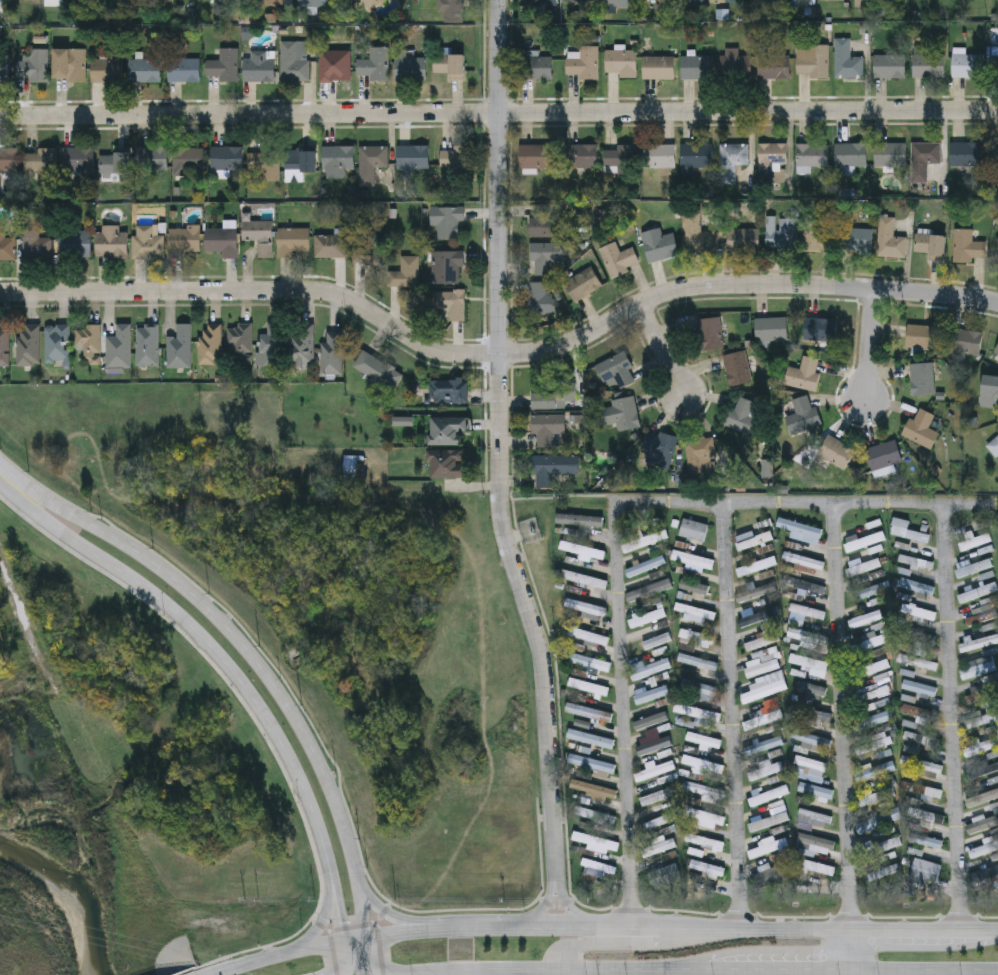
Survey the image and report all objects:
building: (793, 0)
building: (916, 0)
building: (580, 1)
building: (694, 1)
building: (724, 1)
building: (861, 1)
building: (542, 2)
building: (315, 3)
building: (615, 3)
building: (452, 11)
building: (812, 60)
building: (846, 60)
building: (294, 61)
building: (583, 61)
building: (620, 62)
building: (928, 64)
building: (69, 65)
building: (375, 65)
building: (889, 65)
building: (967, 65)
building: (33, 66)
building: (224, 66)
building: (449, 66)
building: (658, 66)
building: (696, 66)
building: (736, 66)
building: (773, 66)
building: (409, 67)
building: (535, 67)
building: (335, 69)
building: (4, 70)
building: (183, 70)
building: (258, 70)
building: (145, 71)
building: (106, 72)
road: (498, 114)
building: (965, 153)
building: (995, 153)
building: (889, 154)
building: (924, 154)
building: (534, 155)
building: (581, 155)
building: (659, 155)
building: (695, 155)
building: (812, 155)
building: (850, 155)
building: (773, 156)
building: (227, 158)
building: (338, 158)
building: (413, 158)
building: (457, 159)
building: (9, 160)
building: (151, 160)
building: (620, 160)
building: (731, 160)
building: (77, 161)
building: (188, 161)
building: (39, 162)
building: (115, 163)
building: (300, 163)
building: (371, 163)
building: (264, 166)
building: (546, 221)
building: (447, 222)
building: (781, 233)
building: (696, 235)
building: (819, 235)
building: (259, 237)
building: (743, 239)
building: (890, 239)
building: (859, 240)
building: (997, 240)
building: (35, 242)
building: (148, 242)
building: (292, 242)
building: (111, 243)
building: (184, 243)
building: (75, 244)
building: (222, 244)
building: (658, 244)
building: (929, 246)
building: (968, 246)
building: (6, 247)
building: (330, 247)
building: (366, 249)
building: (544, 256)
building: (617, 259)
building: (448, 268)
building: (405, 274)
building: (581, 285)
building: (540, 299)
building: (449, 306)
building: (771, 327)
building: (820, 327)
building: (710, 332)
building: (922, 335)
building: (241, 340)
building: (966, 340)
building: (89, 342)
building: (211, 343)
building: (58, 344)
road: (872, 344)
building: (148, 345)
building: (271, 345)
building: (302, 345)
building: (5, 346)
building: (27, 346)
building: (119, 347)
building: (179, 347)
road: (662, 349)
building: (996, 350)
building: (332, 352)
road: (499, 355)
building: (736, 367)
building: (616, 369)
building: (378, 370)
building: (803, 372)
building: (922, 377)
building: (989, 390)
building: (449, 391)
building: (554, 396)
building: (621, 412)
building: (802, 413)
building: (744, 415)
building: (921, 426)
building: (546, 428)
building: (446, 430)
building: (660, 444)
building: (993, 444)
road: (501, 446)
building: (836, 450)
building: (884, 453)
building: (698, 455)
building: (448, 464)
building: (550, 467)
building: (350, 470)
road: (10, 483)
road: (807, 503)
building: (582, 520)
building: (694, 530)
building: (801, 530)
building: (905, 530)
building: (641, 537)
building: (865, 541)
building: (975, 541)
building: (583, 549)
building: (804, 560)
building: (646, 566)
building: (757, 566)
building: (864, 567)
building: (974, 568)
building: (584, 579)
building: (805, 585)
building: (918, 587)
building: (650, 589)
building: (871, 590)
building: (756, 591)
building: (978, 592)
road: (158, 603)
building: (586, 607)
building: (808, 611)
building: (695, 612)
building: (920, 614)
building: (983, 614)
building: (647, 617)
building: (758, 617)
building: (865, 617)
building: (588, 636)
building: (697, 637)
building: (808, 637)
building: (918, 637)
building: (656, 641)
building: (868, 642)
building: (979, 643)
building: (587, 661)
building: (698, 662)
building: (808, 662)
building: (762, 667)
building: (876, 667)
building: (650, 669)
building: (978, 669)
road: (270, 678)
building: (588, 686)
building: (698, 688)
building: (812, 688)
building: (919, 688)
building: (870, 690)
building: (764, 691)
building: (652, 693)
building: (992, 709)
building: (589, 711)
building: (697, 712)
road: (623, 715)
road: (734, 715)
building: (811, 715)
building: (920, 715)
road: (953, 716)
building: (763, 719)
building: (872, 719)
building: (651, 720)
road: (844, 737)
building: (591, 738)
building: (812, 738)
building: (921, 738)
building: (704, 739)
building: (981, 744)
building: (654, 745)
building: (763, 745)
building: (591, 763)
building: (811, 763)
building: (703, 764)
building: (987, 764)
building: (922, 765)
building: (764, 769)
building: (875, 770)
building: (993, 779)
building: (593, 789)
building: (704, 789)
building: (816, 790)
building: (878, 792)
road: (302, 795)
building: (656, 795)
building: (767, 795)
building: (981, 799)
park: (42, 804)
building: (595, 815)
building: (815, 815)
building: (927, 815)
building: (770, 818)
building: (878, 820)
building: (658, 821)
building: (982, 823)
building: (927, 840)
building: (596, 841)
building: (705, 841)
building: (816, 843)
building: (767, 846)
building: (659, 847)
building: (983, 847)
building: (877, 848)
building: (599, 865)
building: (927, 867)
building: (708, 868)
building: (885, 871)
building: (665, 875)
building: (772, 875)
building: (985, 877)
road: (333, 900)
road: (543, 907)
road: (568, 907)
road: (381, 912)
road: (321, 913)
road: (669, 927)
road: (636, 944)
road: (278, 956)
road: (345, 959)
road: (514, 970)
road: (633, 971)
road: (778, 971)
road: (438, 972)
road: (924, 972)
road: (560, 973)

